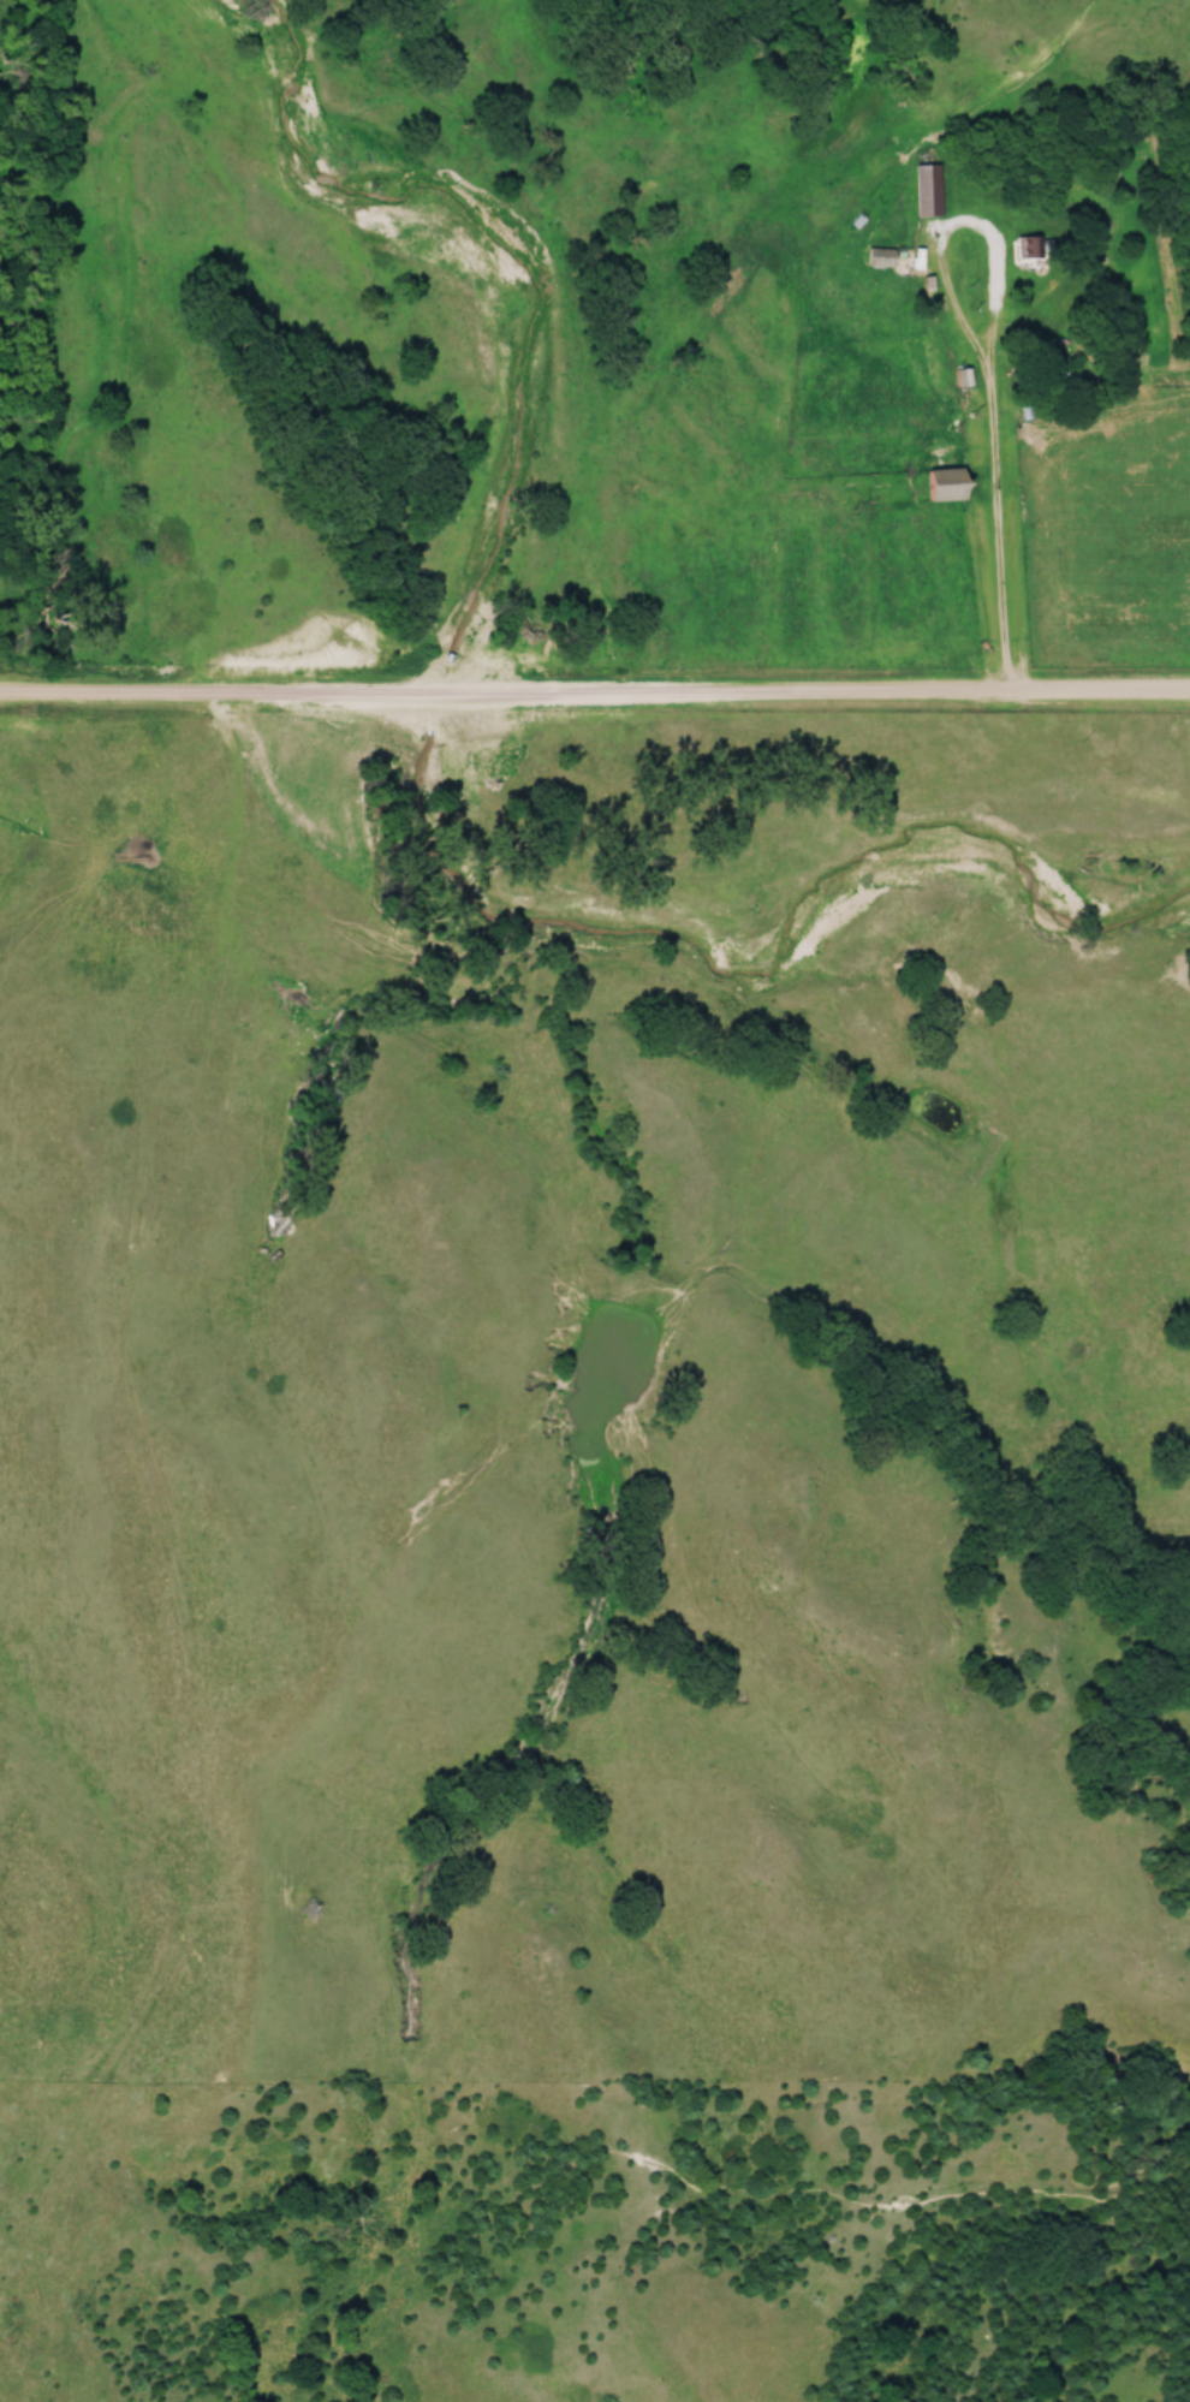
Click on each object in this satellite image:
building: (926, 191)
road: (986, 236)
building: (885, 260)
building: (962, 377)
building: (941, 484)
road: (1004, 525)
road: (594, 697)

